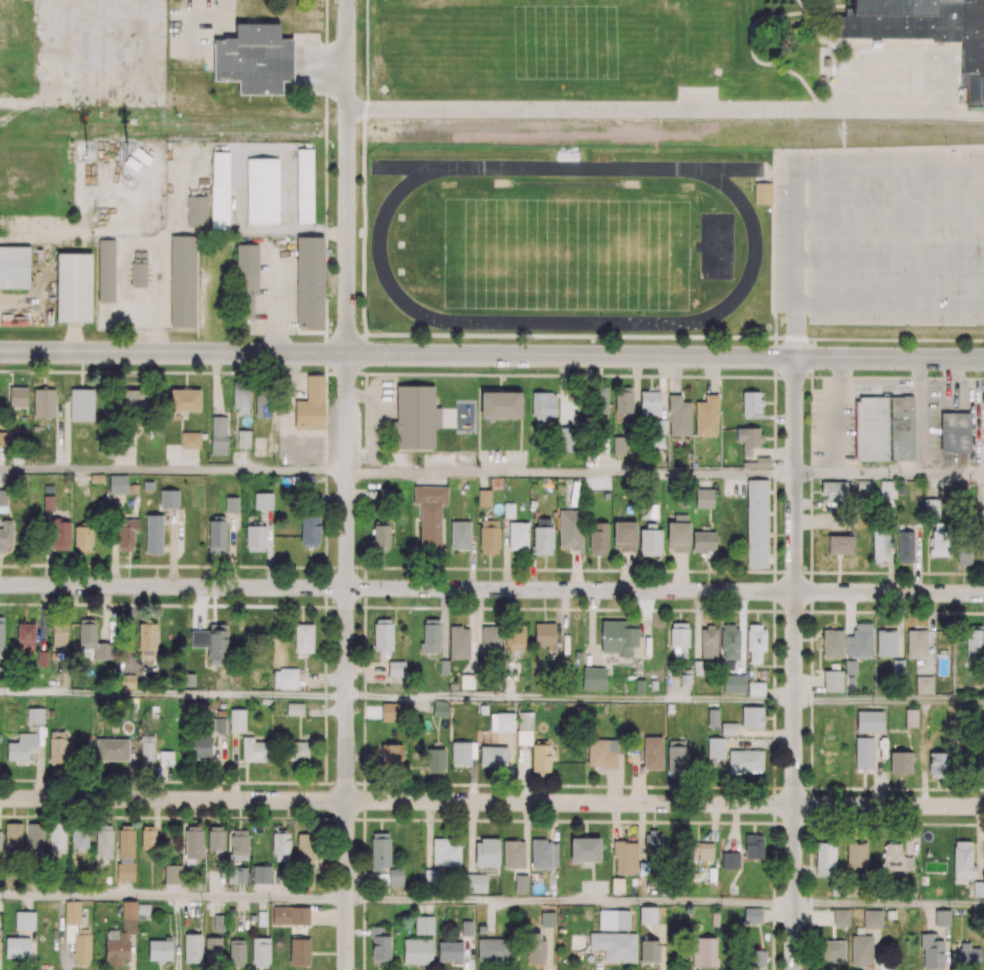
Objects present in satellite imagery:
building: (925, 29)
road: (885, 57)
building: (257, 61)
road: (896, 85)
parking lot: (898, 85)
road: (948, 98)
road: (591, 111)
road: (892, 112)
road: (966, 112)
road: (890, 170)
road: (345, 176)
road: (567, 186)
building: (765, 195)
road: (41, 238)
parking lot: (884, 240)
track: (378, 247)
park: (567, 250)
road: (795, 263)
street lamp: (807, 326)
street lamp: (875, 327)
street lamp: (941, 328)
road: (491, 354)
street lamp: (814, 374)
street lamp: (938, 376)
street lamp: (953, 408)
road: (837, 417)
road: (921, 417)
road: (173, 471)
road: (570, 475)
road: (888, 477)
road: (492, 589)
road: (347, 662)
road: (794, 663)
road: (173, 693)
road: (570, 697)
road: (889, 700)
road: (492, 802)
road: (173, 895)
road: (570, 901)
road: (889, 905)

